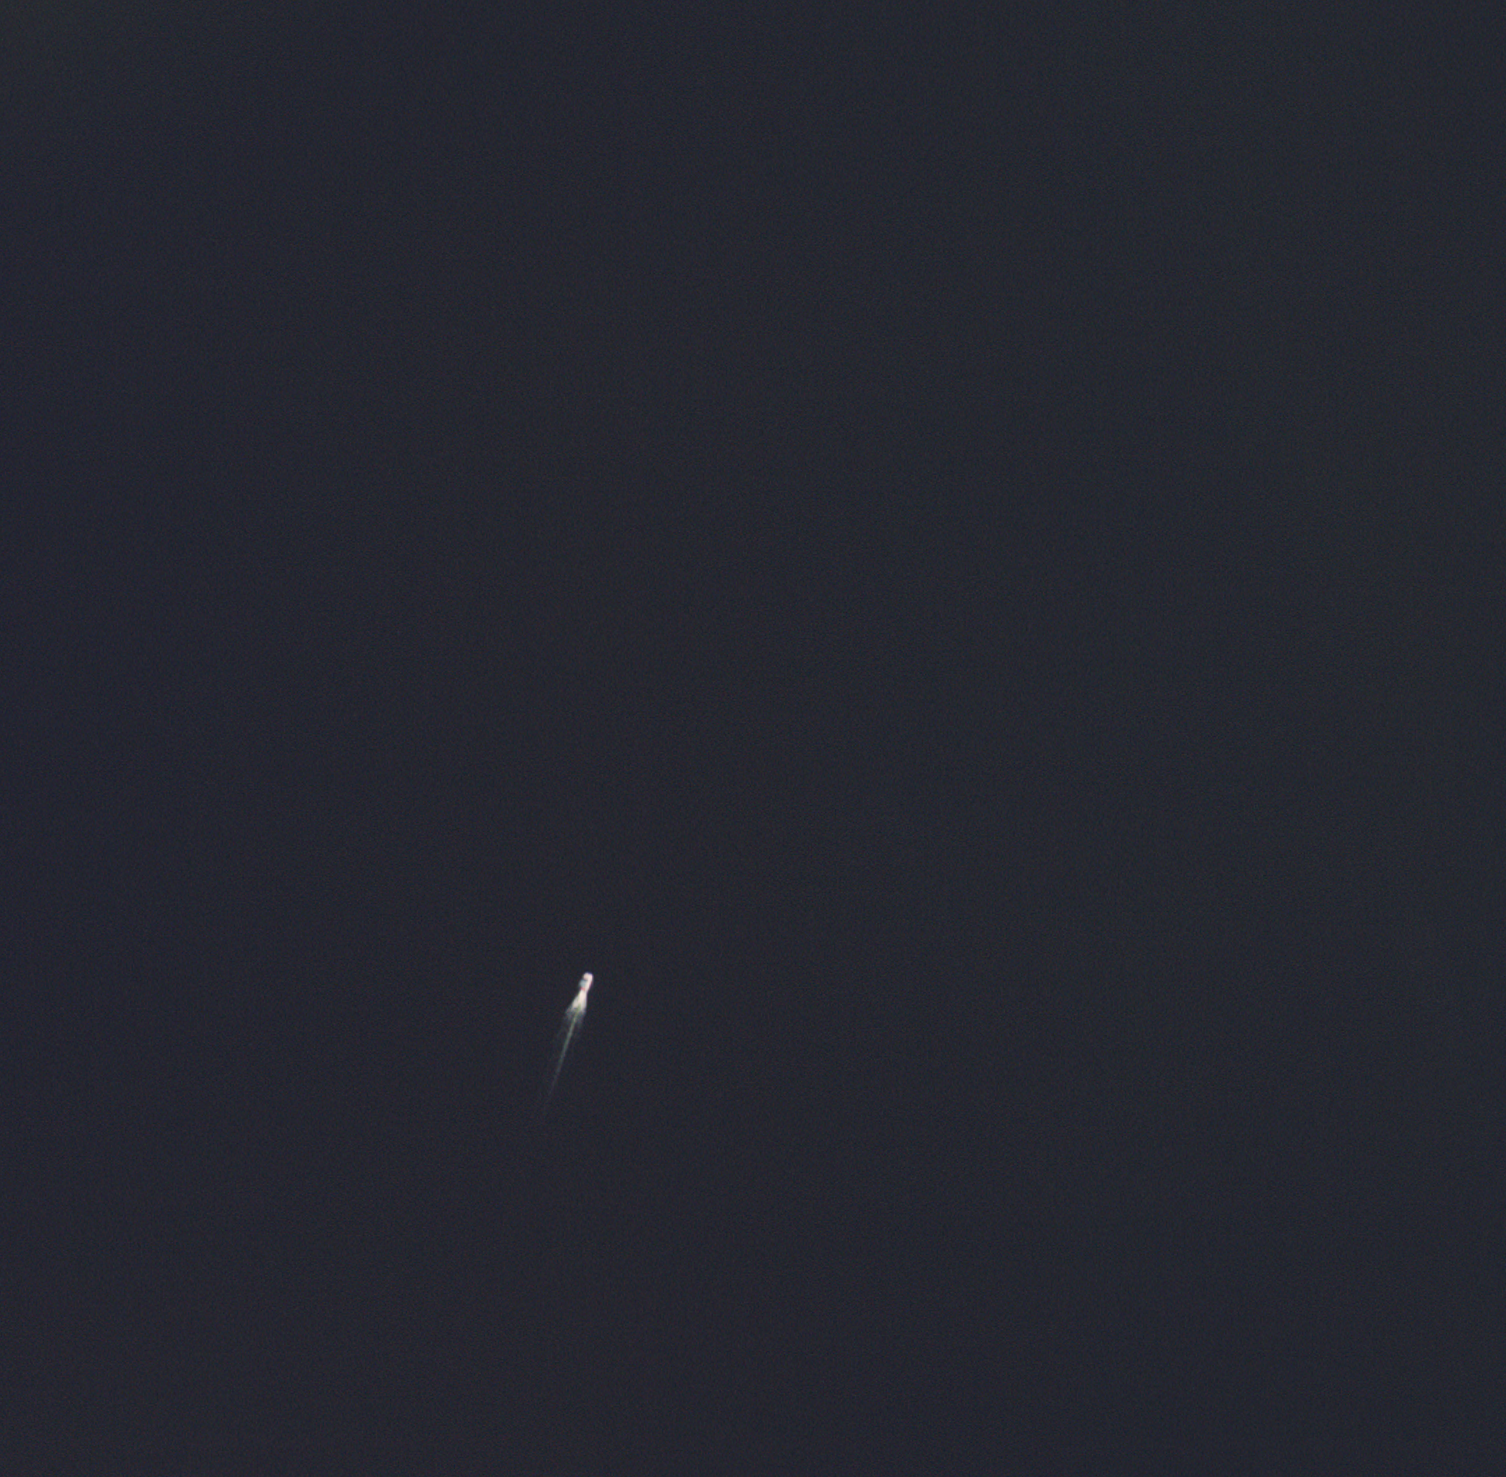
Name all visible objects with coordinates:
river: (1088, 746)

